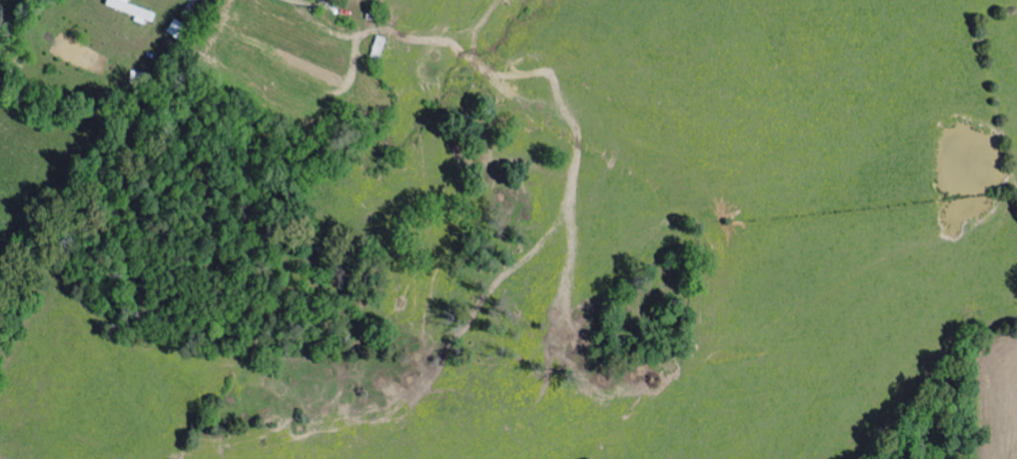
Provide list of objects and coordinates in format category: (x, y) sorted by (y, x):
building: (135, 10)

